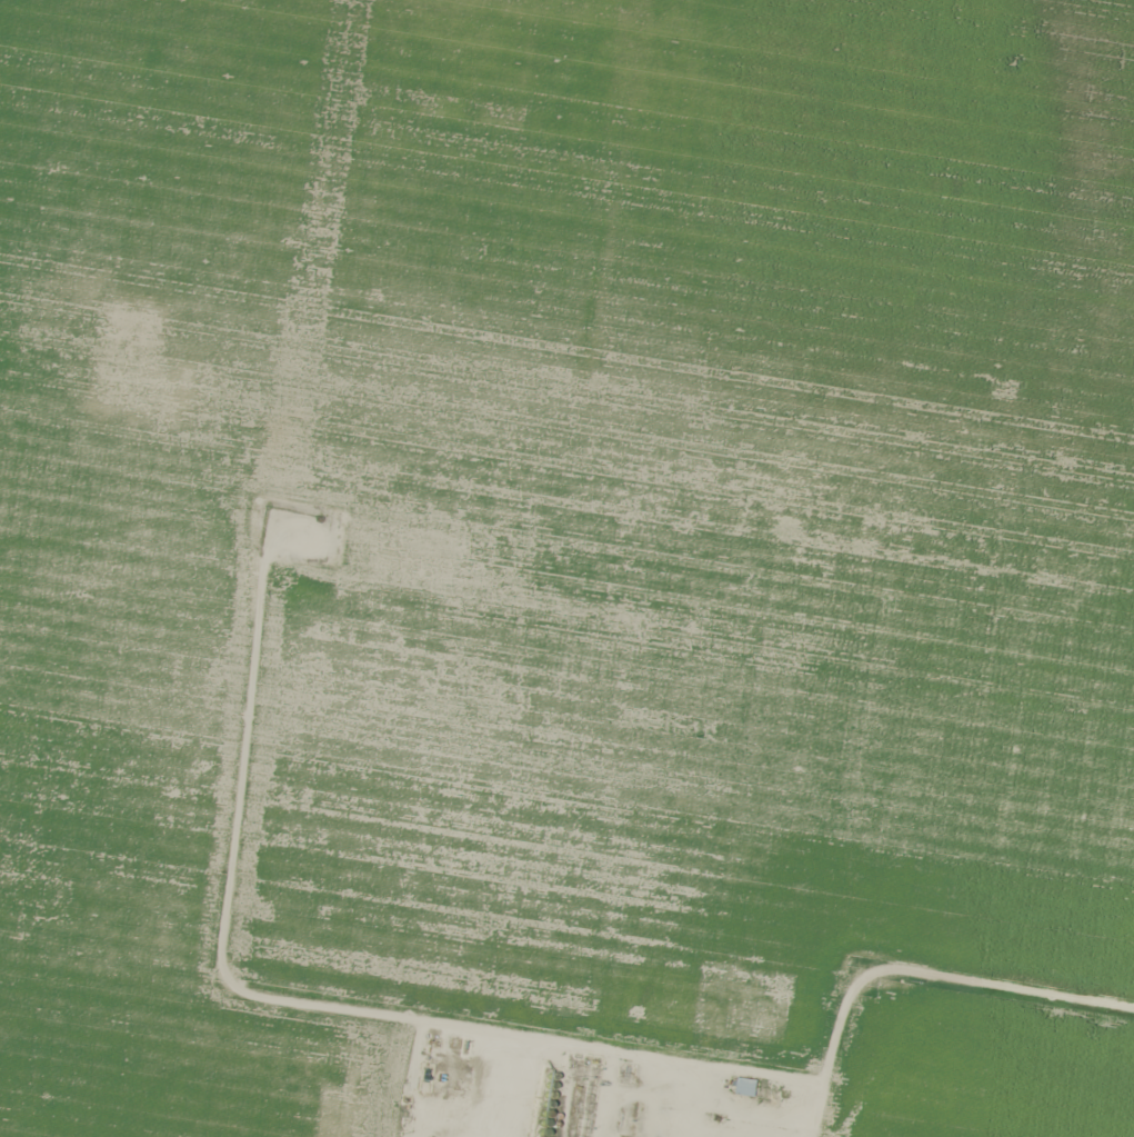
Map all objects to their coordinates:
building: (740, 1087)

